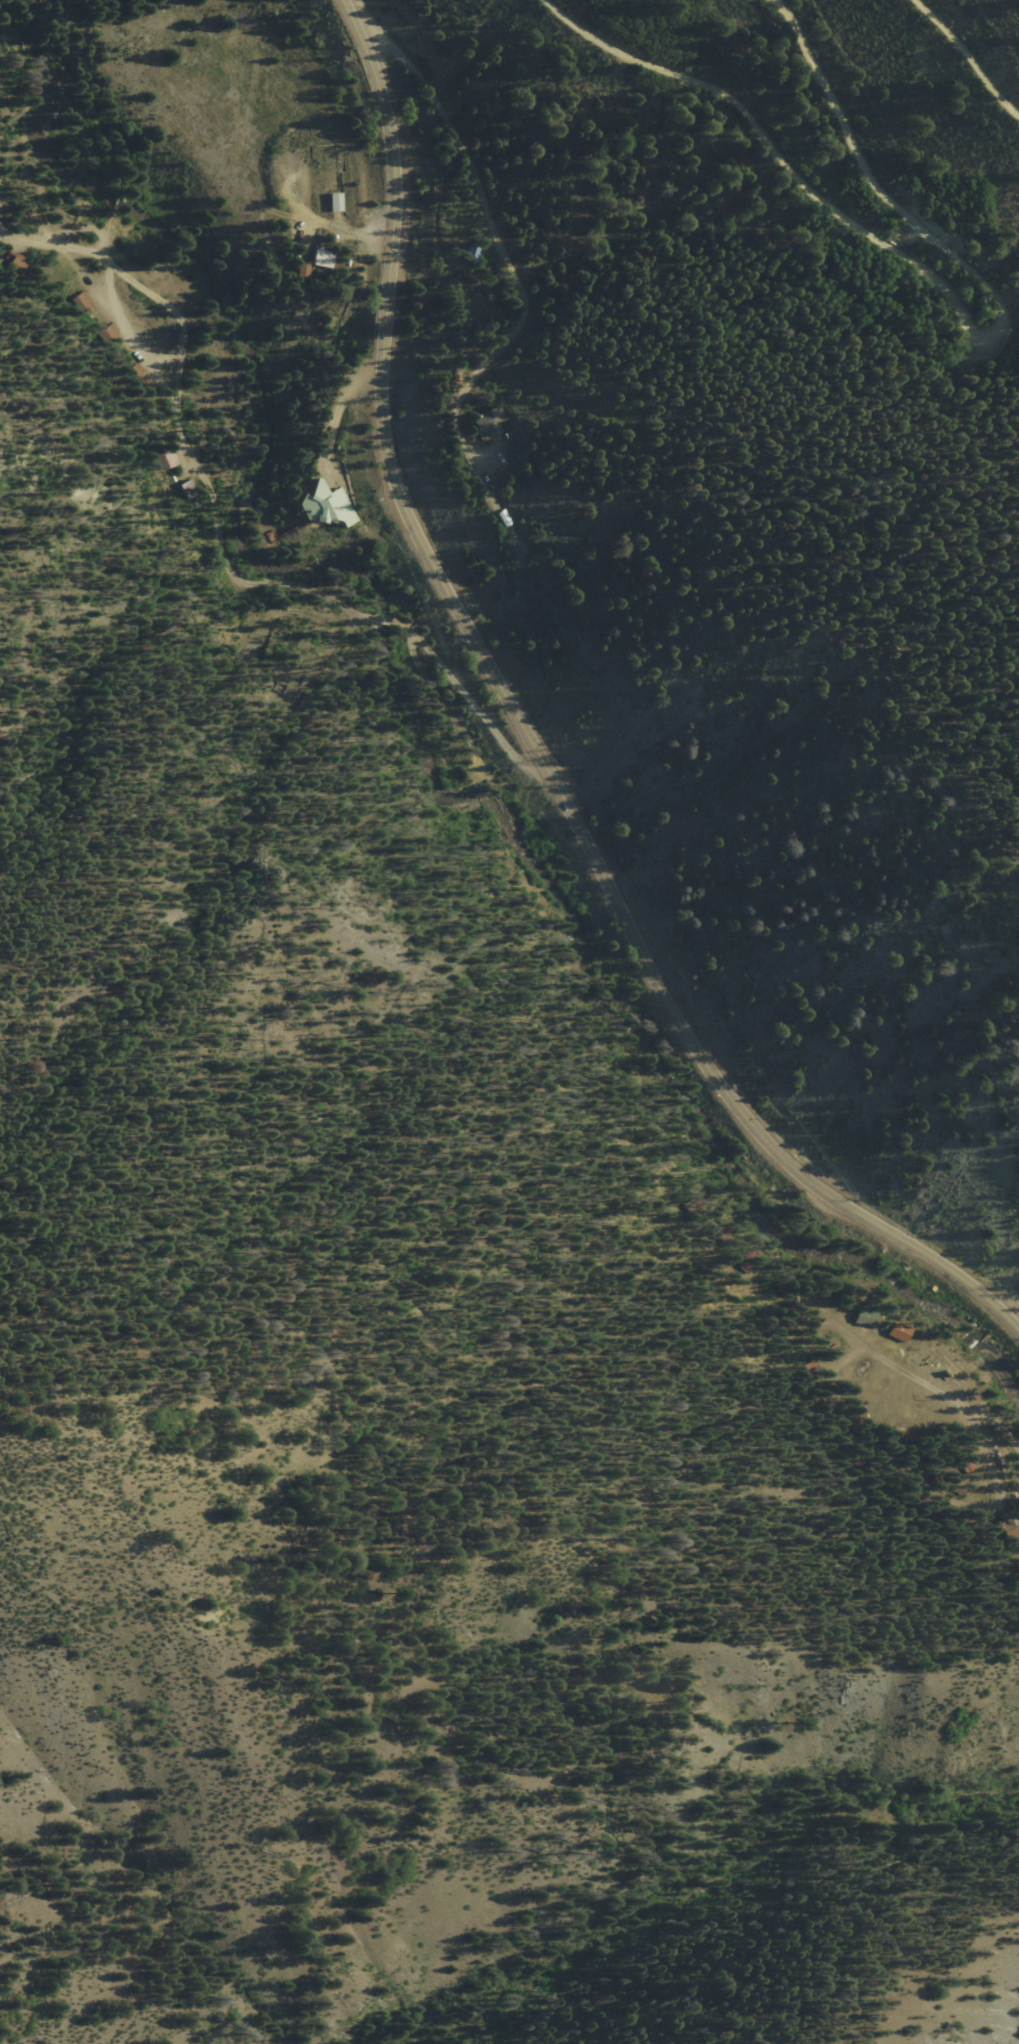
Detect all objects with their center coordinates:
road: (964, 58)
building: (336, 201)
road: (498, 250)
building: (303, 268)
road: (944, 297)
building: (490, 421)
building: (326, 505)
road: (799, 574)
road: (527, 742)
road: (1014, 799)
building: (867, 1316)
building: (900, 1330)
road: (927, 1388)
road: (695, 1897)

